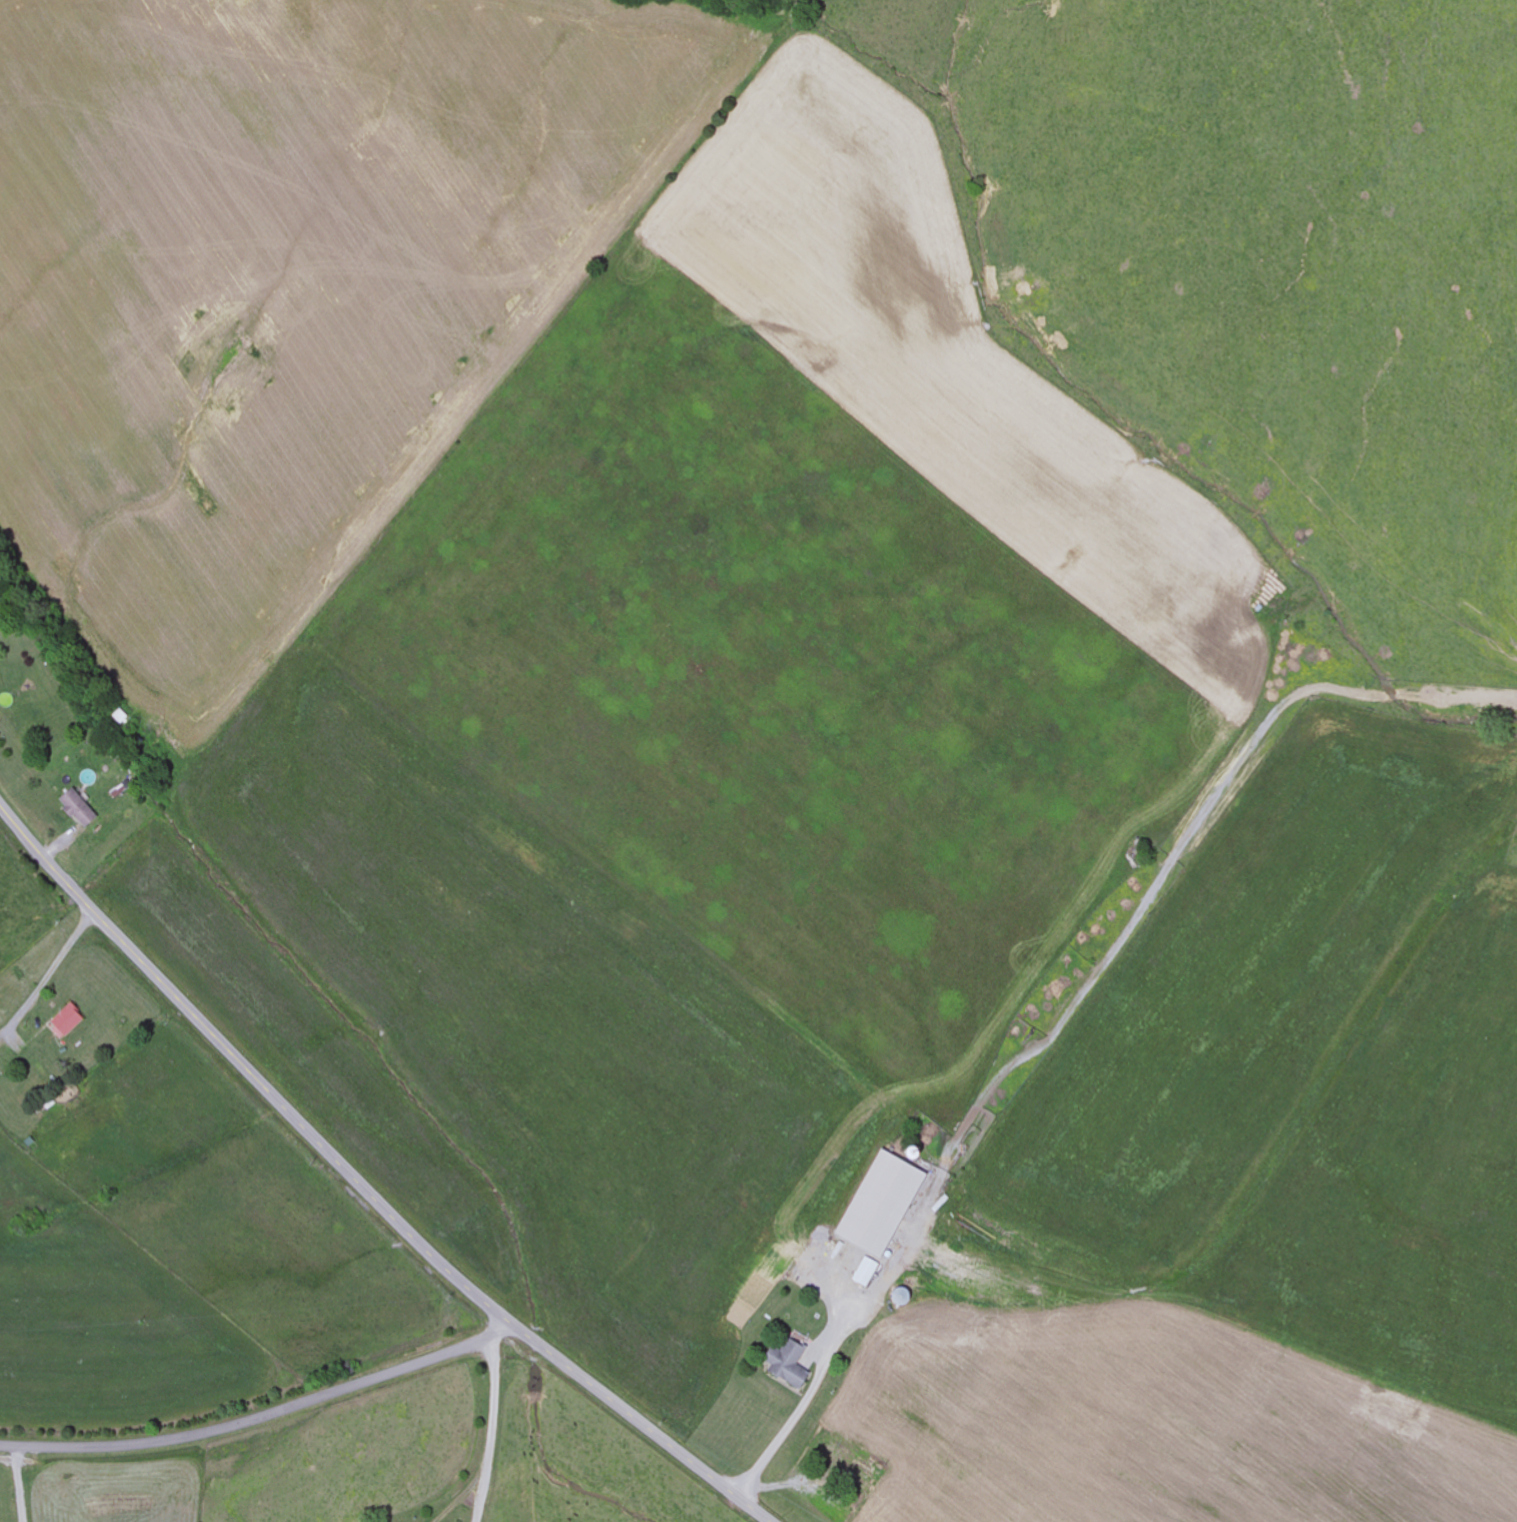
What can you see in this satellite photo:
building: (76, 810)
building: (64, 1023)
road: (363, 1187)
building: (878, 1206)
building: (866, 1274)
building: (786, 1366)
road: (264, 1416)

